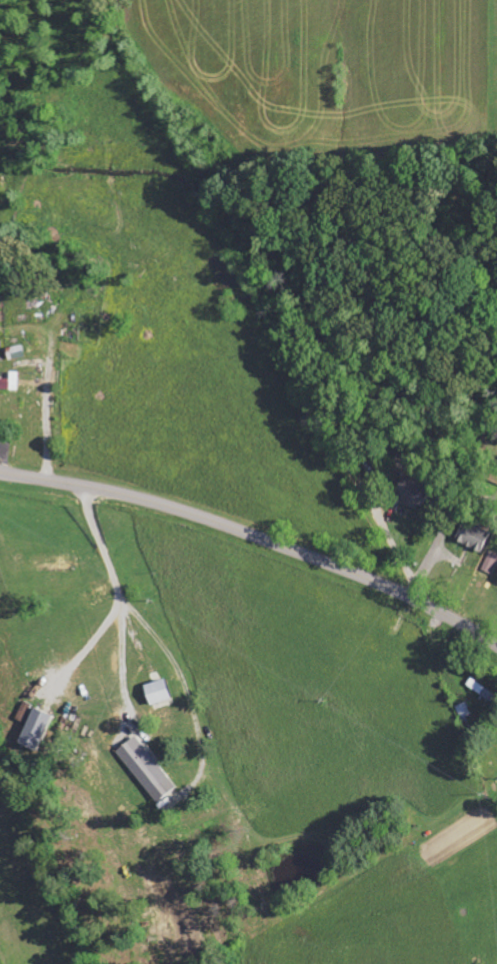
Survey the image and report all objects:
building: (8, 383)
building: (415, 494)
road: (256, 533)
building: (474, 535)
building: (490, 561)
road: (489, 611)
building: (481, 689)
building: (156, 691)
building: (464, 709)
building: (35, 728)
building: (146, 768)

